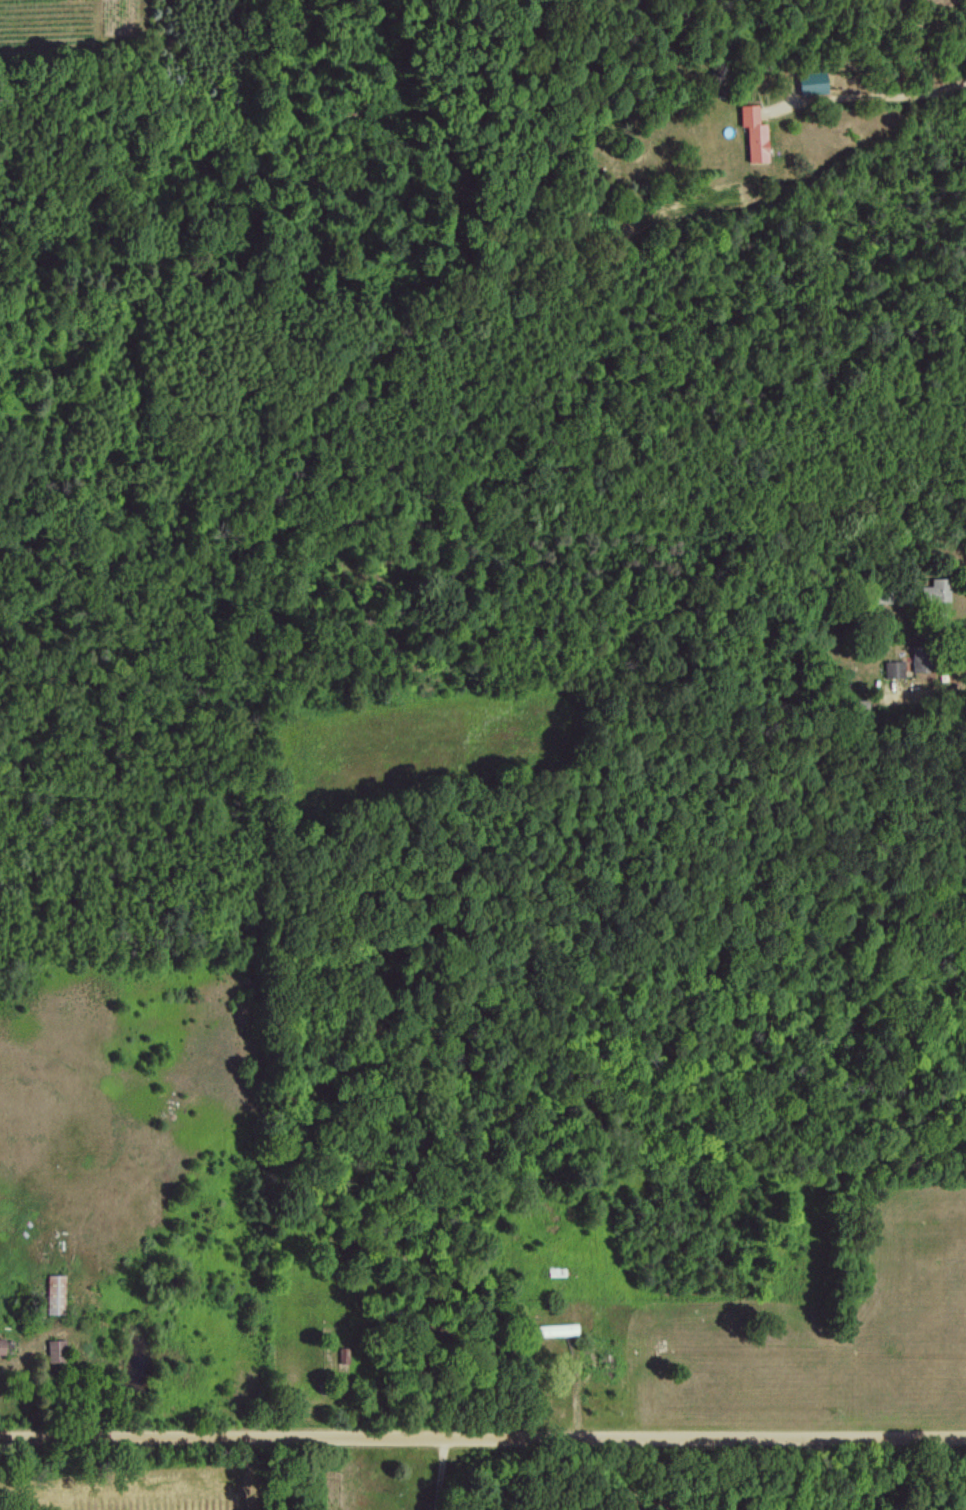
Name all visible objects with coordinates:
building: (811, 83)
road: (870, 95)
building: (753, 133)
building: (935, 589)
building: (892, 668)
road: (953, 690)
building: (54, 1293)
building: (1, 1346)
building: (55, 1350)
building: (342, 1354)
road: (483, 1435)
road: (442, 1472)

